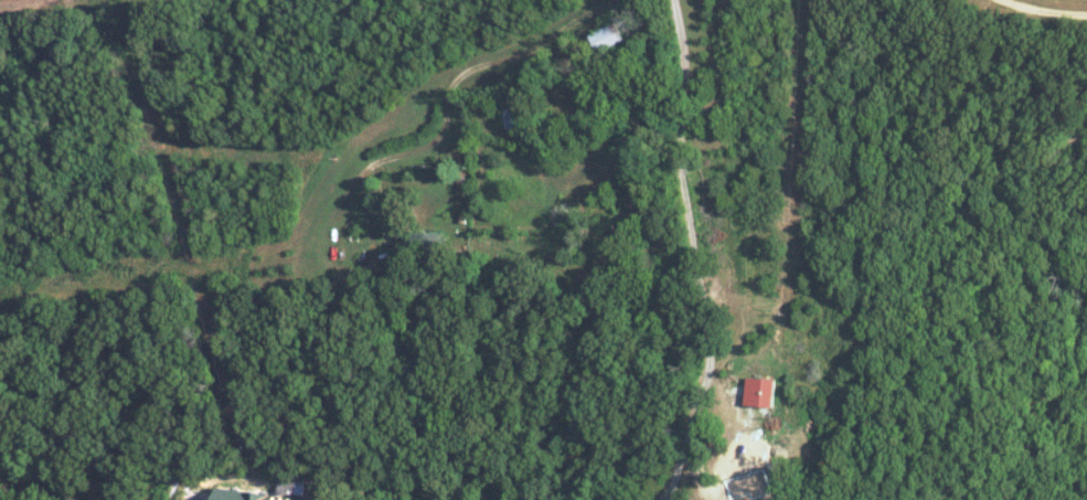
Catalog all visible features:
road: (1051, 8)
building: (607, 35)
road: (697, 253)
building: (759, 391)
building: (247, 494)

